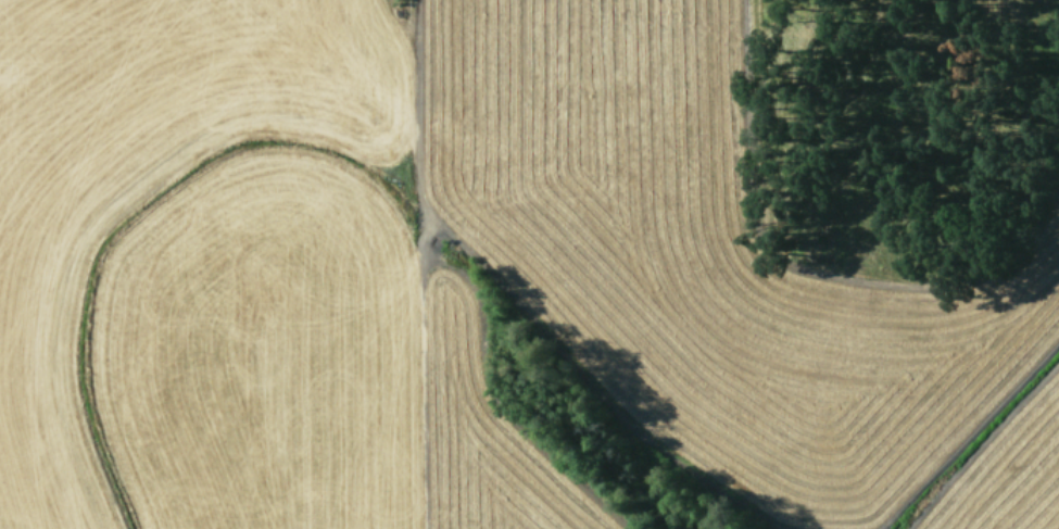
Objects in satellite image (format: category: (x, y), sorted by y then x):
crop: (529, 264)

